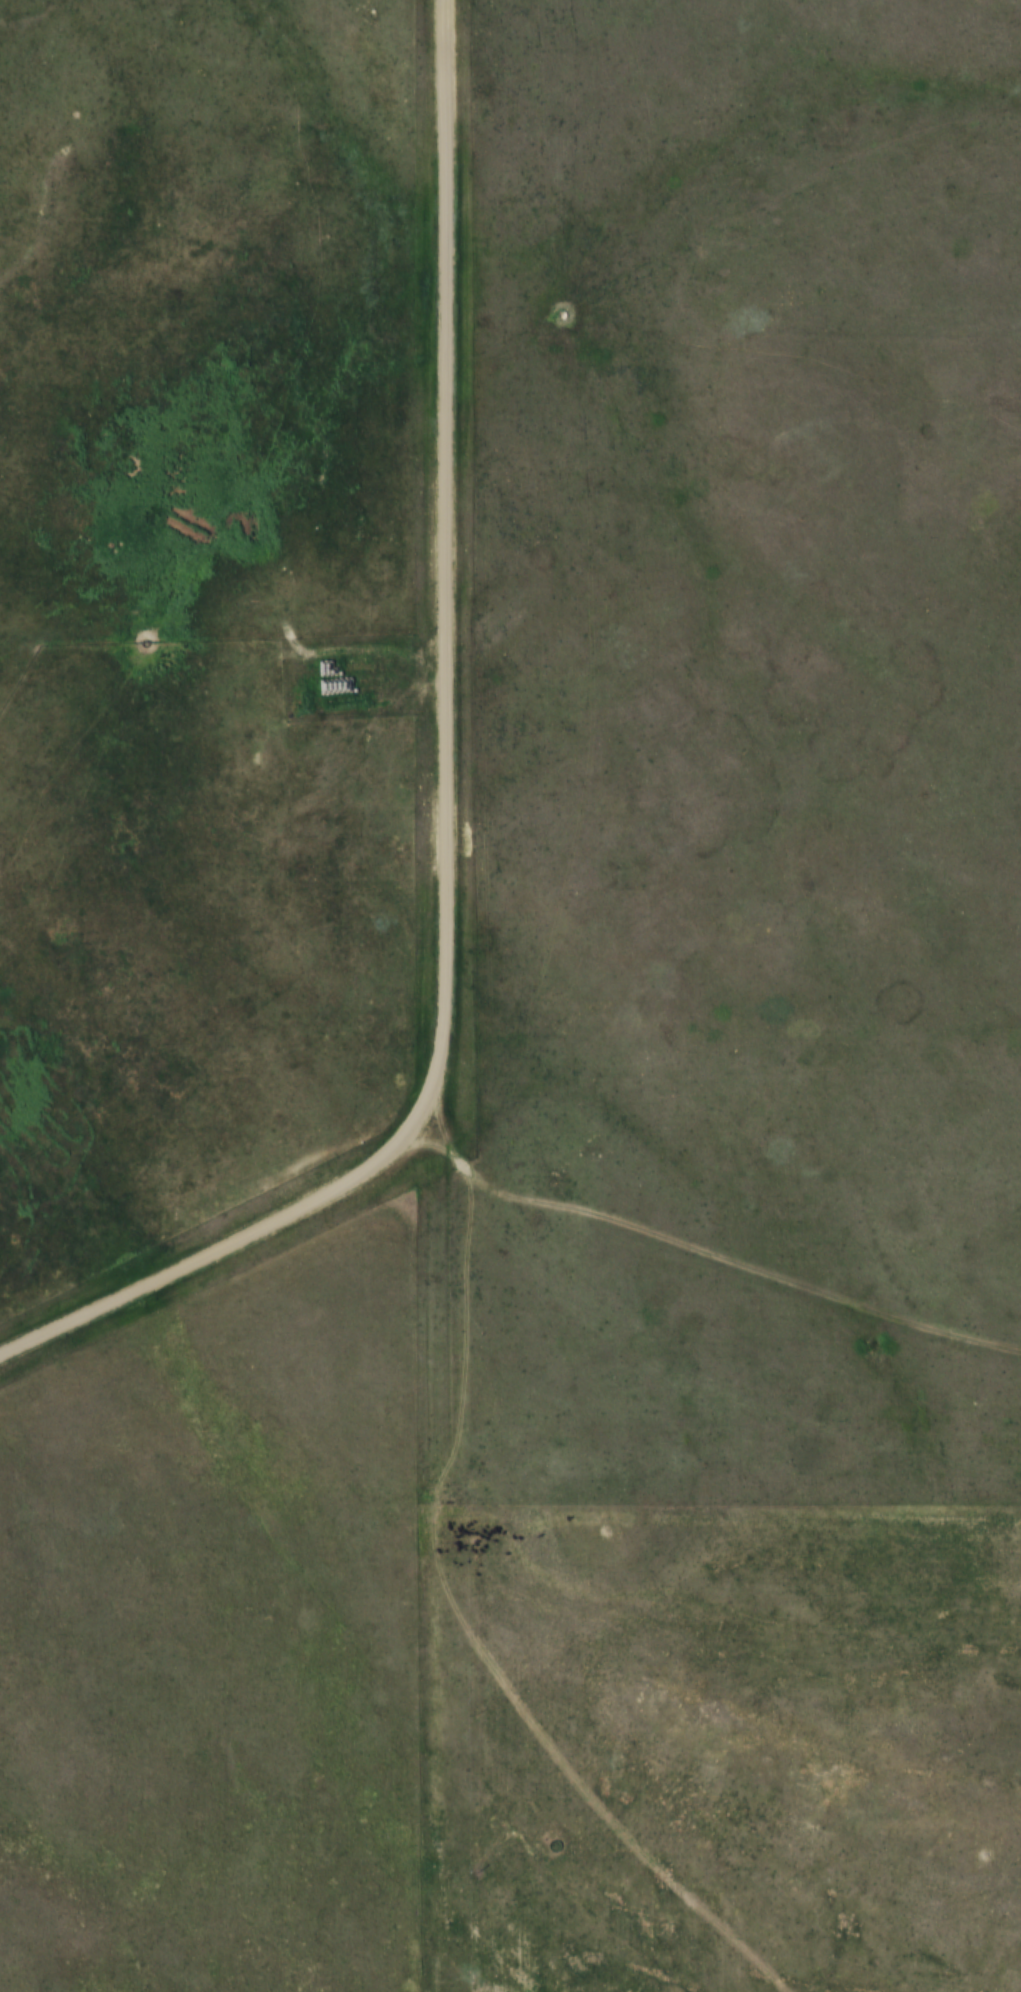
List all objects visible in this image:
road: (450, 806)

